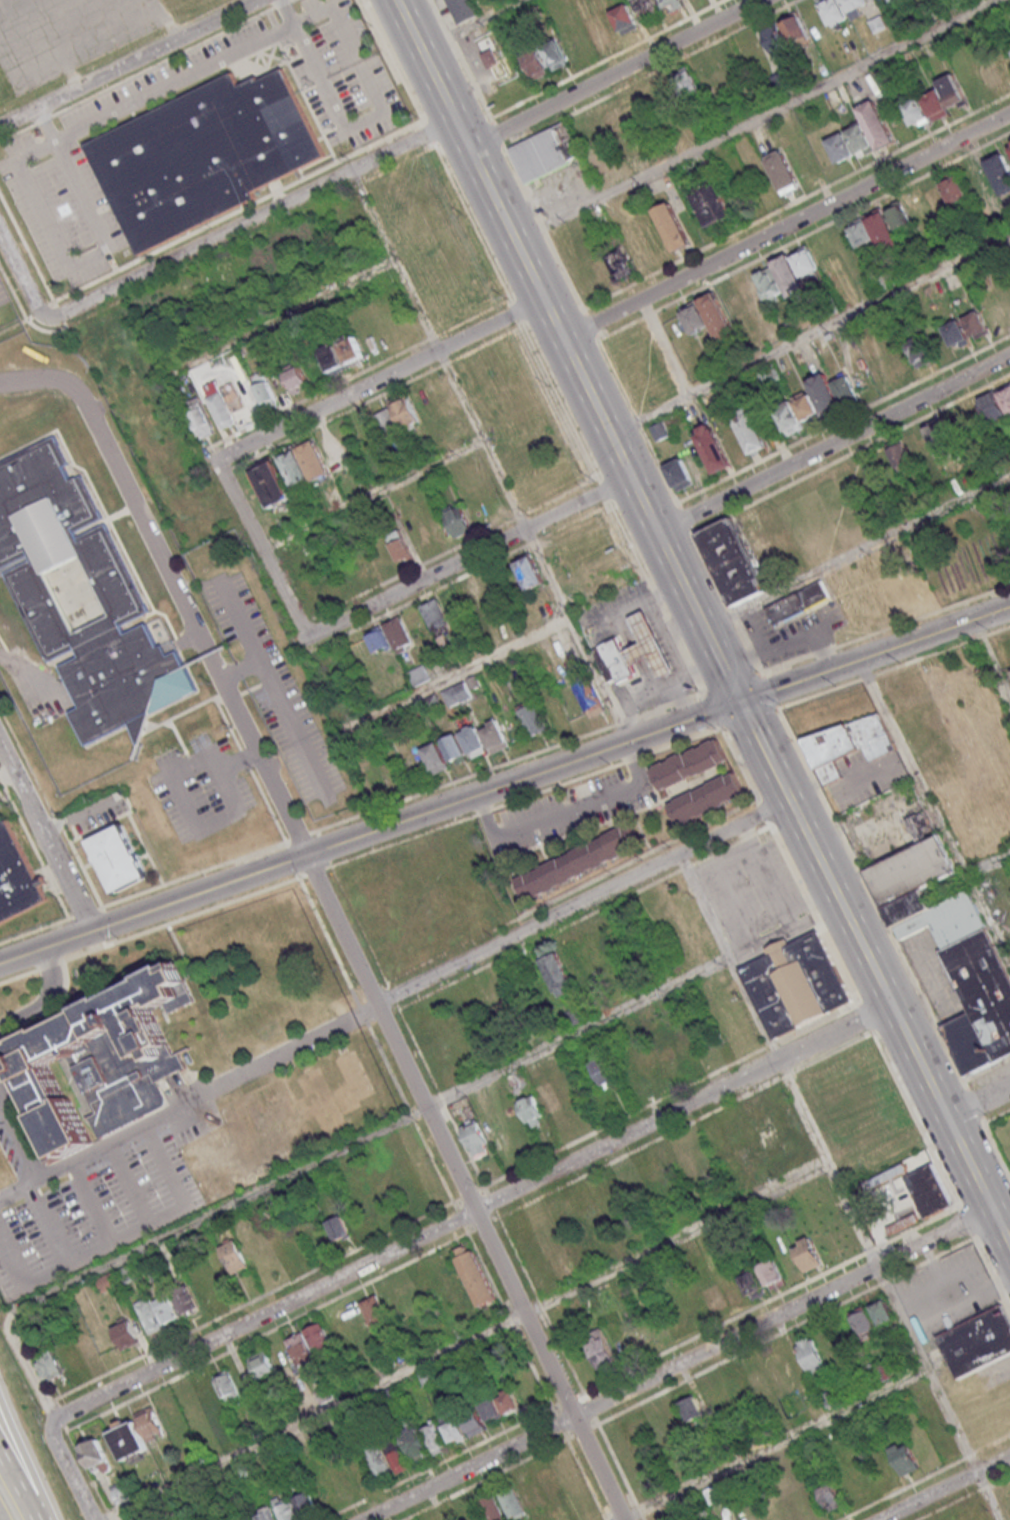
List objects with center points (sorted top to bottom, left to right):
building: (887, 1)
building: (657, 6)
building: (854, 7)
building: (463, 9)
building: (833, 11)
building: (625, 18)
road: (467, 24)
building: (795, 29)
building: (598, 32)
building: (776, 41)
building: (555, 55)
building: (490, 58)
building: (535, 61)
road: (128, 63)
road: (617, 75)
building: (989, 76)
road: (188, 77)
building: (780, 78)
building: (687, 81)
building: (935, 102)
building: (616, 118)
road: (752, 120)
building: (861, 134)
building: (1009, 145)
building: (546, 152)
building: (201, 153)
building: (782, 171)
road: (73, 176)
building: (945, 196)
building: (712, 203)
road: (251, 217)
building: (900, 217)
building: (672, 226)
road: (789, 230)
building: (873, 230)
building: (621, 263)
building: (795, 269)
building: (601, 271)
road: (24, 274)
building: (760, 289)
road: (295, 313)
building: (715, 313)
road: (555, 320)
building: (976, 325)
road: (812, 333)
building: (957, 335)
building: (350, 348)
building: (919, 351)
building: (333, 358)
building: (892, 366)
building: (296, 379)
building: (264, 389)
building: (833, 391)
road: (337, 399)
building: (996, 404)
building: (806, 406)
building: (221, 409)
building: (404, 410)
building: (199, 417)
building: (789, 418)
building: (388, 423)
building: (660, 430)
building: (750, 430)
building: (949, 434)
road: (836, 445)
building: (721, 447)
building: (910, 450)
road: (490, 454)
building: (304, 463)
building: (680, 474)
building: (271, 483)
road: (124, 487)
road: (372, 491)
building: (458, 519)
building: (772, 520)
building: (756, 536)
building: (400, 544)
road: (858, 552)
road: (639, 559)
building: (733, 561)
building: (531, 572)
road: (426, 578)
building: (473, 596)
building: (84, 597)
building: (801, 605)
building: (436, 616)
building: (391, 636)
building: (654, 649)
road: (876, 654)
road: (991, 660)
building: (618, 663)
road: (464, 670)
road: (244, 671)
road: (727, 672)
building: (421, 674)
road: (268, 681)
road: (731, 682)
road: (251, 688)
parking lot: (278, 689)
road: (281, 690)
road: (772, 691)
road: (223, 692)
building: (458, 693)
road: (236, 695)
building: (590, 695)
traffic signals: (742, 702)
road: (186, 710)
road: (710, 711)
building: (533, 718)
road: (753, 722)
road: (228, 723)
road: (758, 735)
building: (496, 736)
road: (179, 737)
building: (474, 741)
building: (847, 744)
building: (456, 749)
road: (245, 758)
building: (436, 758)
road: (27, 759)
road: (191, 759)
road: (238, 761)
road: (509, 762)
road: (740, 762)
building: (693, 767)
road: (7, 773)
road: (860, 776)
parking lot: (865, 776)
road: (2, 779)
road: (801, 781)
road: (175, 783)
road: (226, 783)
parking lot: (199, 789)
road: (526, 798)
building: (707, 798)
road: (269, 806)
road: (935, 810)
parking lot: (573, 811)
road: (82, 818)
road: (132, 819)
road: (221, 821)
road: (60, 822)
road: (71, 822)
road: (313, 830)
road: (75, 831)
road: (318, 832)
road: (371, 833)
road: (45, 834)
road: (300, 836)
road: (325, 848)
road: (38, 851)
building: (120, 857)
road: (294, 859)
building: (580, 861)
road: (331, 864)
road: (988, 864)
road: (329, 866)
road: (84, 867)
building: (911, 869)
road: (317, 870)
road: (195, 874)
road: (301, 874)
road: (305, 875)
building: (18, 880)
road: (573, 906)
building: (908, 906)
road: (86, 911)
road: (181, 918)
building: (950, 922)
road: (37, 930)
road: (895, 942)
road: (50, 964)
building: (558, 973)
road: (19, 975)
building: (799, 988)
road: (52, 995)
building: (981, 1004)
road: (892, 1008)
road: (51, 1010)
building: (577, 1015)
road: (5, 1026)
road: (884, 1054)
building: (105, 1062)
road: (252, 1071)
building: (603, 1071)
building: (515, 1077)
road: (419, 1086)
road: (0, 1093)
building: (549, 1098)
road: (978, 1101)
road: (19, 1106)
building: (531, 1110)
road: (20, 1136)
building: (476, 1137)
road: (110, 1143)
road: (316, 1162)
road: (165, 1166)
road: (50, 1167)
road: (37, 1179)
road: (130, 1183)
road: (839, 1187)
building: (931, 1194)
road: (93, 1199)
parking lot: (96, 1204)
road: (467, 1216)
road: (49, 1224)
building: (339, 1228)
road: (104, 1247)
road: (116, 1247)
building: (807, 1254)
building: (233, 1256)
road: (11, 1264)
building: (771, 1274)
building: (474, 1276)
building: (108, 1282)
building: (731, 1292)
parking lot: (946, 1292)
building: (185, 1299)
building: (166, 1308)
building: (374, 1310)
building: (882, 1311)
building: (149, 1315)
building: (862, 1322)
building: (126, 1334)
building: (977, 1341)
building: (310, 1344)
road: (462, 1345)
building: (600, 1349)
building: (810, 1353)
building: (262, 1364)
road: (677, 1365)
building: (49, 1366)
building: (884, 1371)
building: (226, 1385)
building: (509, 1400)
building: (490, 1408)
building: (691, 1408)
building: (473, 1421)
building: (454, 1430)
building: (135, 1434)
road: (14, 1436)
building: (425, 1441)
road: (771, 1443)
building: (96, 1456)
building: (904, 1458)
building: (386, 1459)
road: (71, 1475)
road: (926, 1478)
road: (946, 1488)
road: (16, 1490)
building: (120, 1491)
building: (530, 1492)
road: (36, 1496)
building: (831, 1496)
road: (966, 1498)
building: (512, 1502)
building: (305, 1504)
building: (493, 1508)
building: (286, 1510)
building: (266, 1514)

